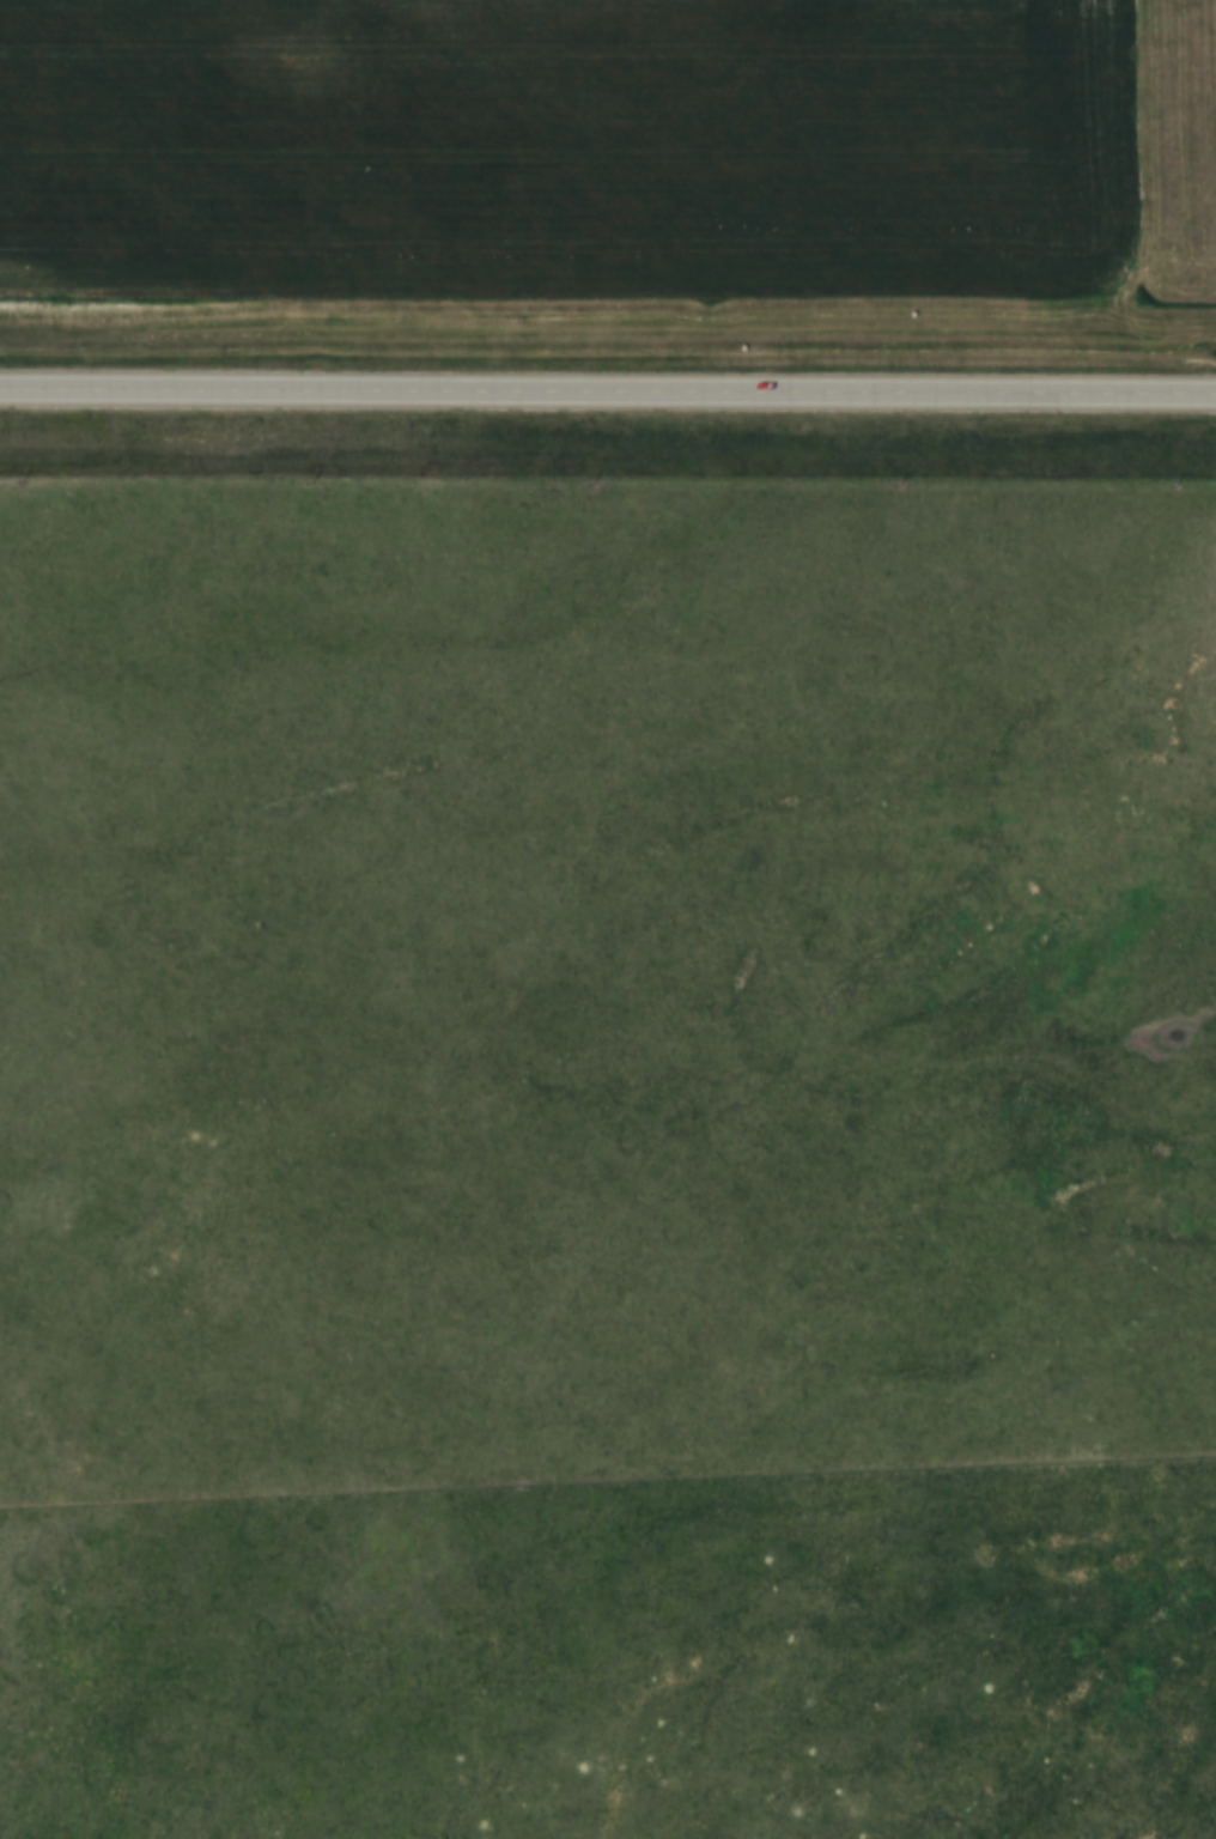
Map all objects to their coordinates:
road: (607, 408)

